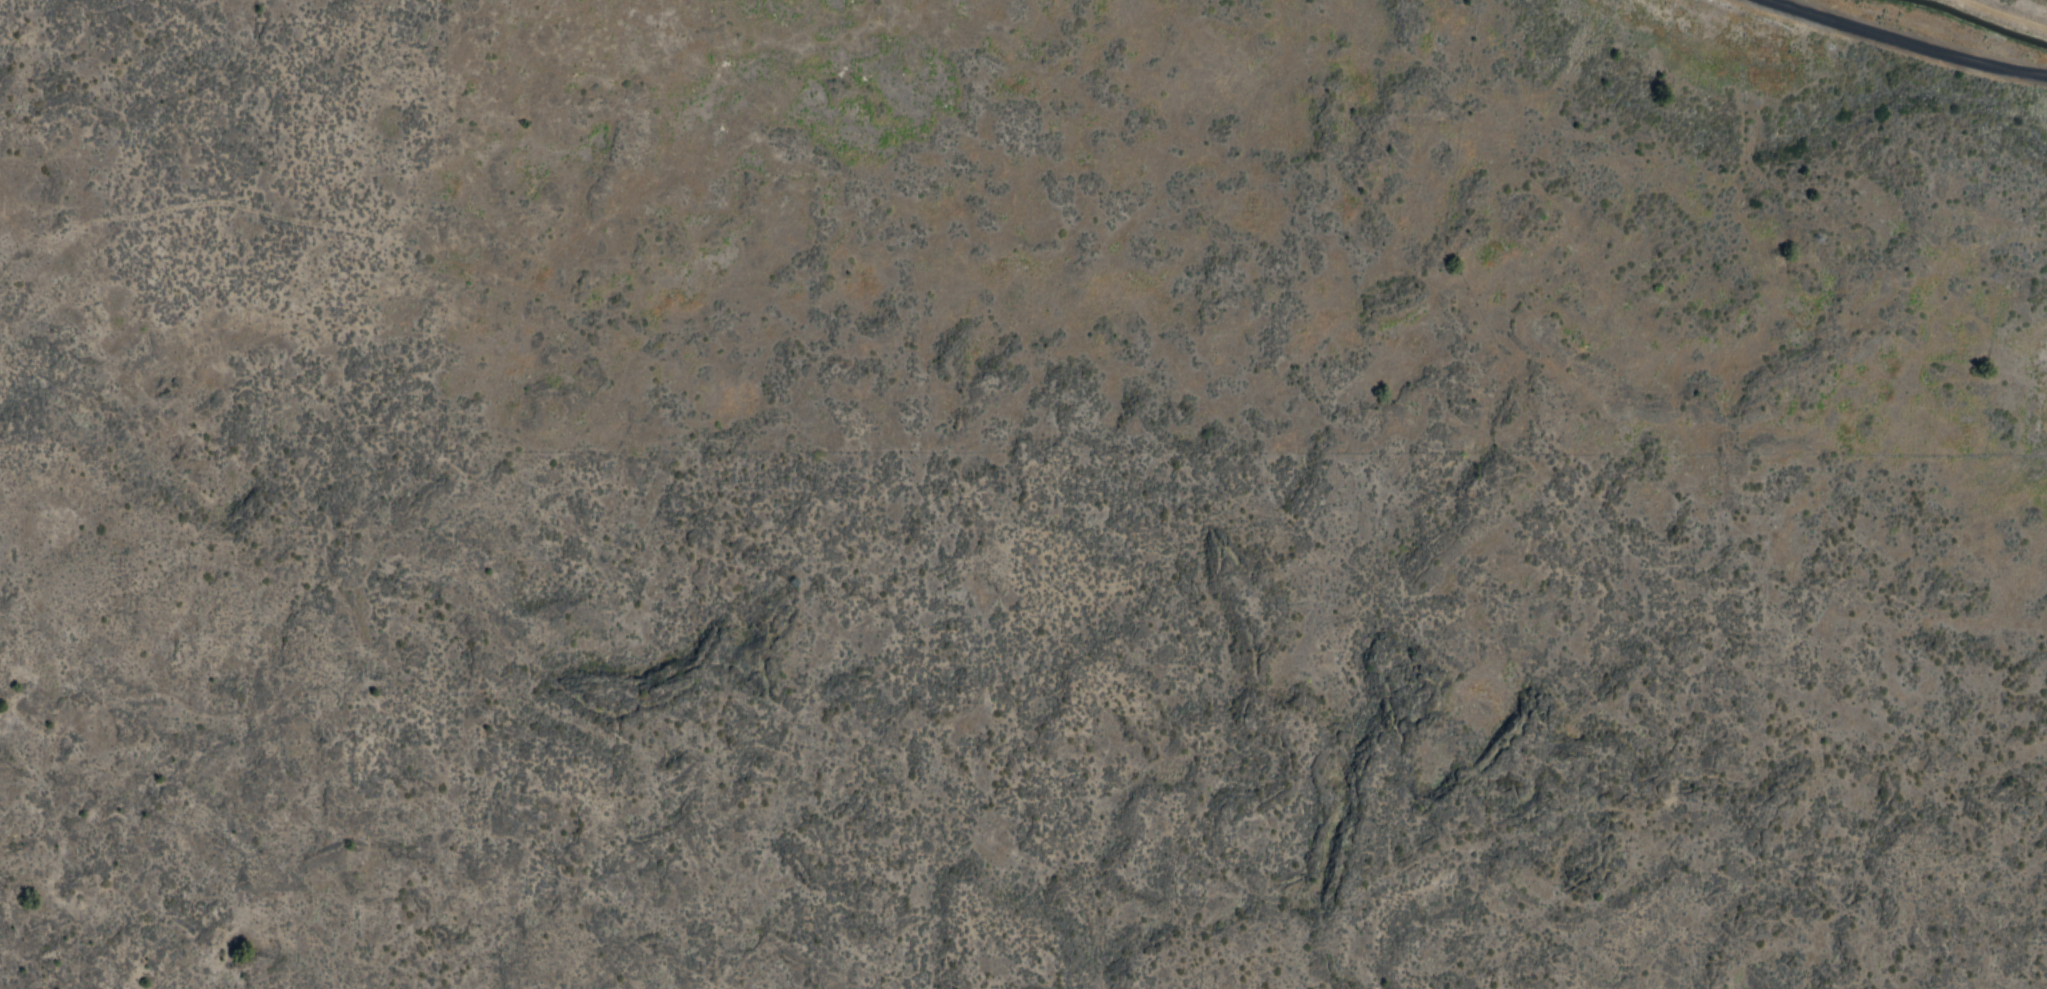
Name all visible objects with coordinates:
road: (1901, 48)

